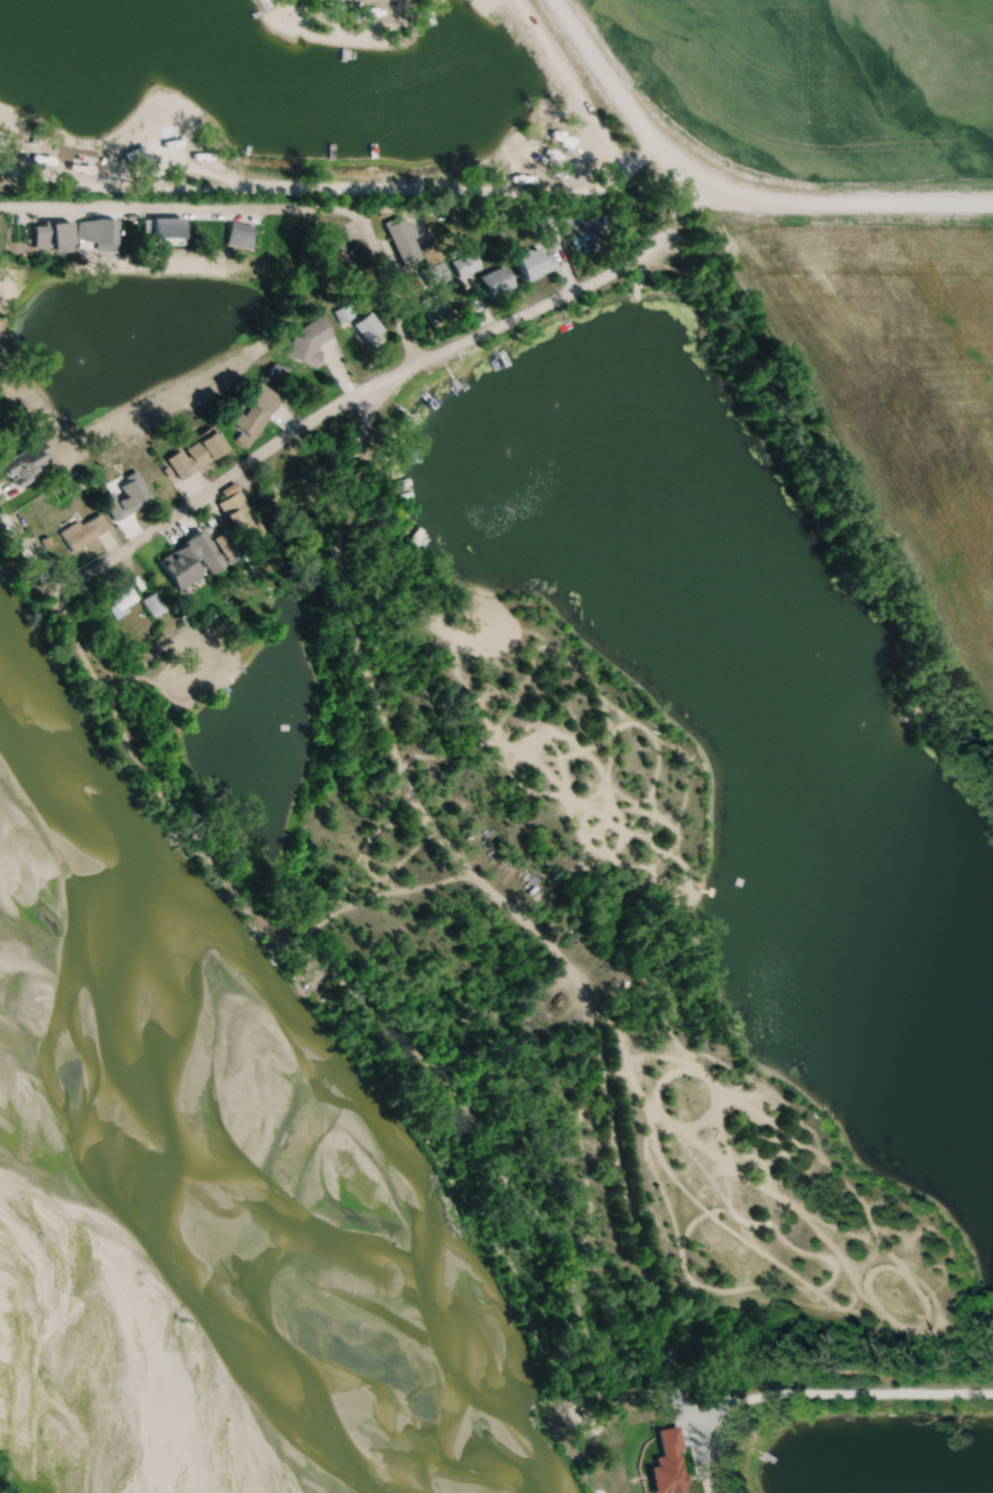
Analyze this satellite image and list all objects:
road: (624, 112)
building: (173, 144)
road: (668, 185)
road: (412, 189)
road: (859, 203)
road: (515, 206)
road: (180, 209)
building: (166, 229)
building: (96, 230)
building: (50, 234)
building: (239, 236)
building: (403, 237)
building: (432, 253)
building: (533, 263)
building: (467, 265)
building: (437, 275)
building: (496, 282)
road: (390, 286)
building: (436, 305)
building: (345, 314)
building: (370, 327)
building: (309, 340)
building: (255, 412)
road: (327, 415)
building: (195, 455)
building: (410, 457)
building: (23, 463)
building: (131, 497)
building: (236, 512)
building: (85, 531)
building: (190, 564)
building: (152, 600)
building: (123, 603)
road: (466, 869)
river: (161, 1207)
road: (840, 1396)
road: (691, 1458)

